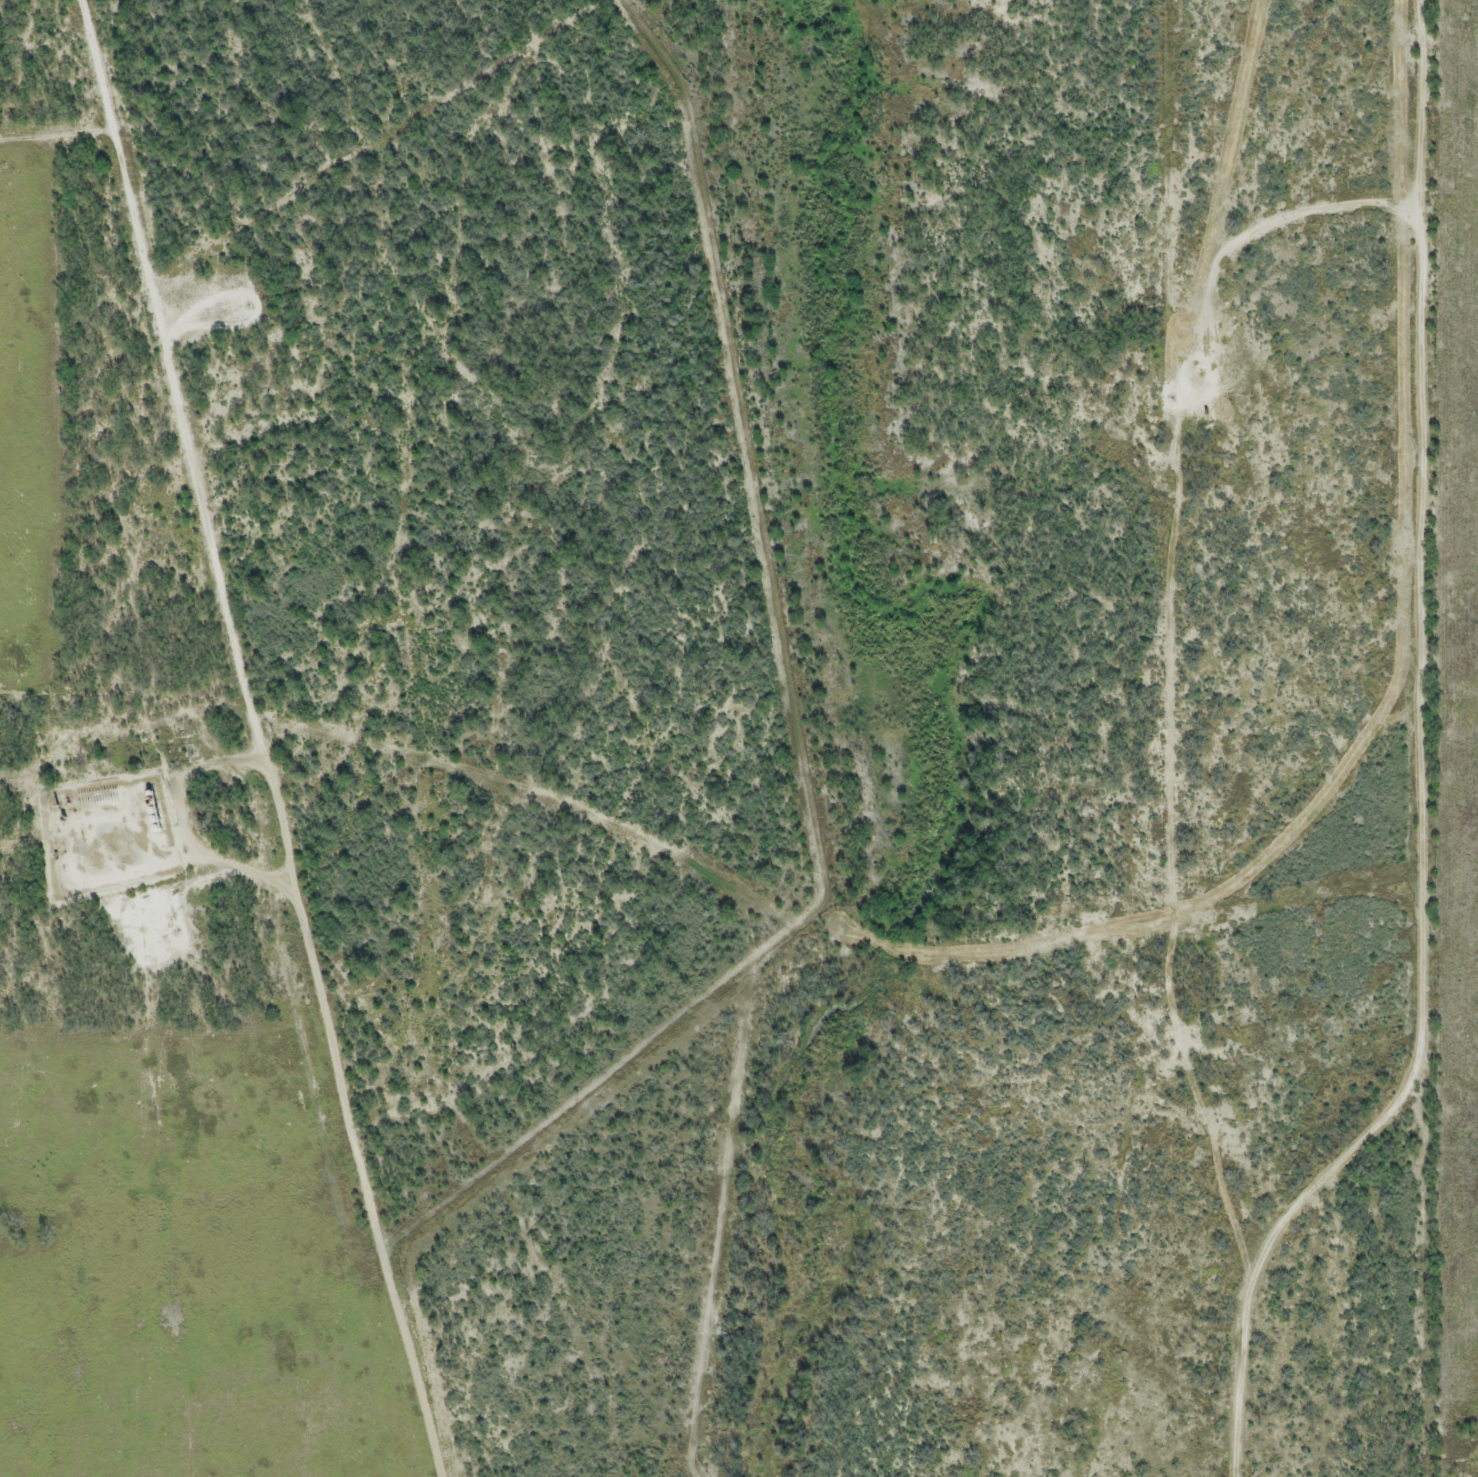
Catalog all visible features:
road: (260, 741)
road: (1416, 872)

